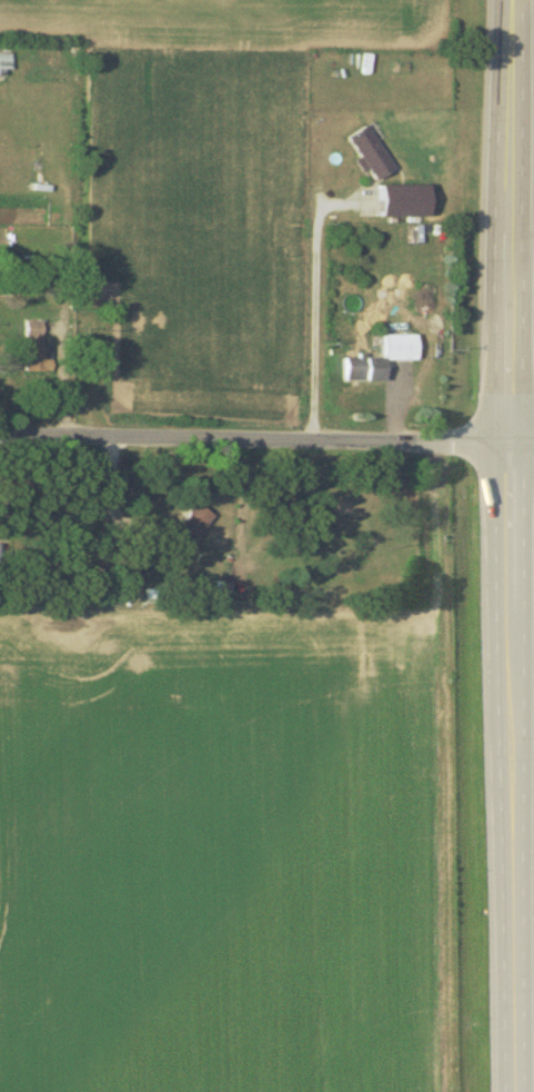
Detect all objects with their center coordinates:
building: (371, 152)
building: (404, 200)
road: (511, 220)
road: (310, 306)
building: (38, 347)
road: (266, 437)
building: (190, 528)
building: (124, 574)
road: (512, 766)

